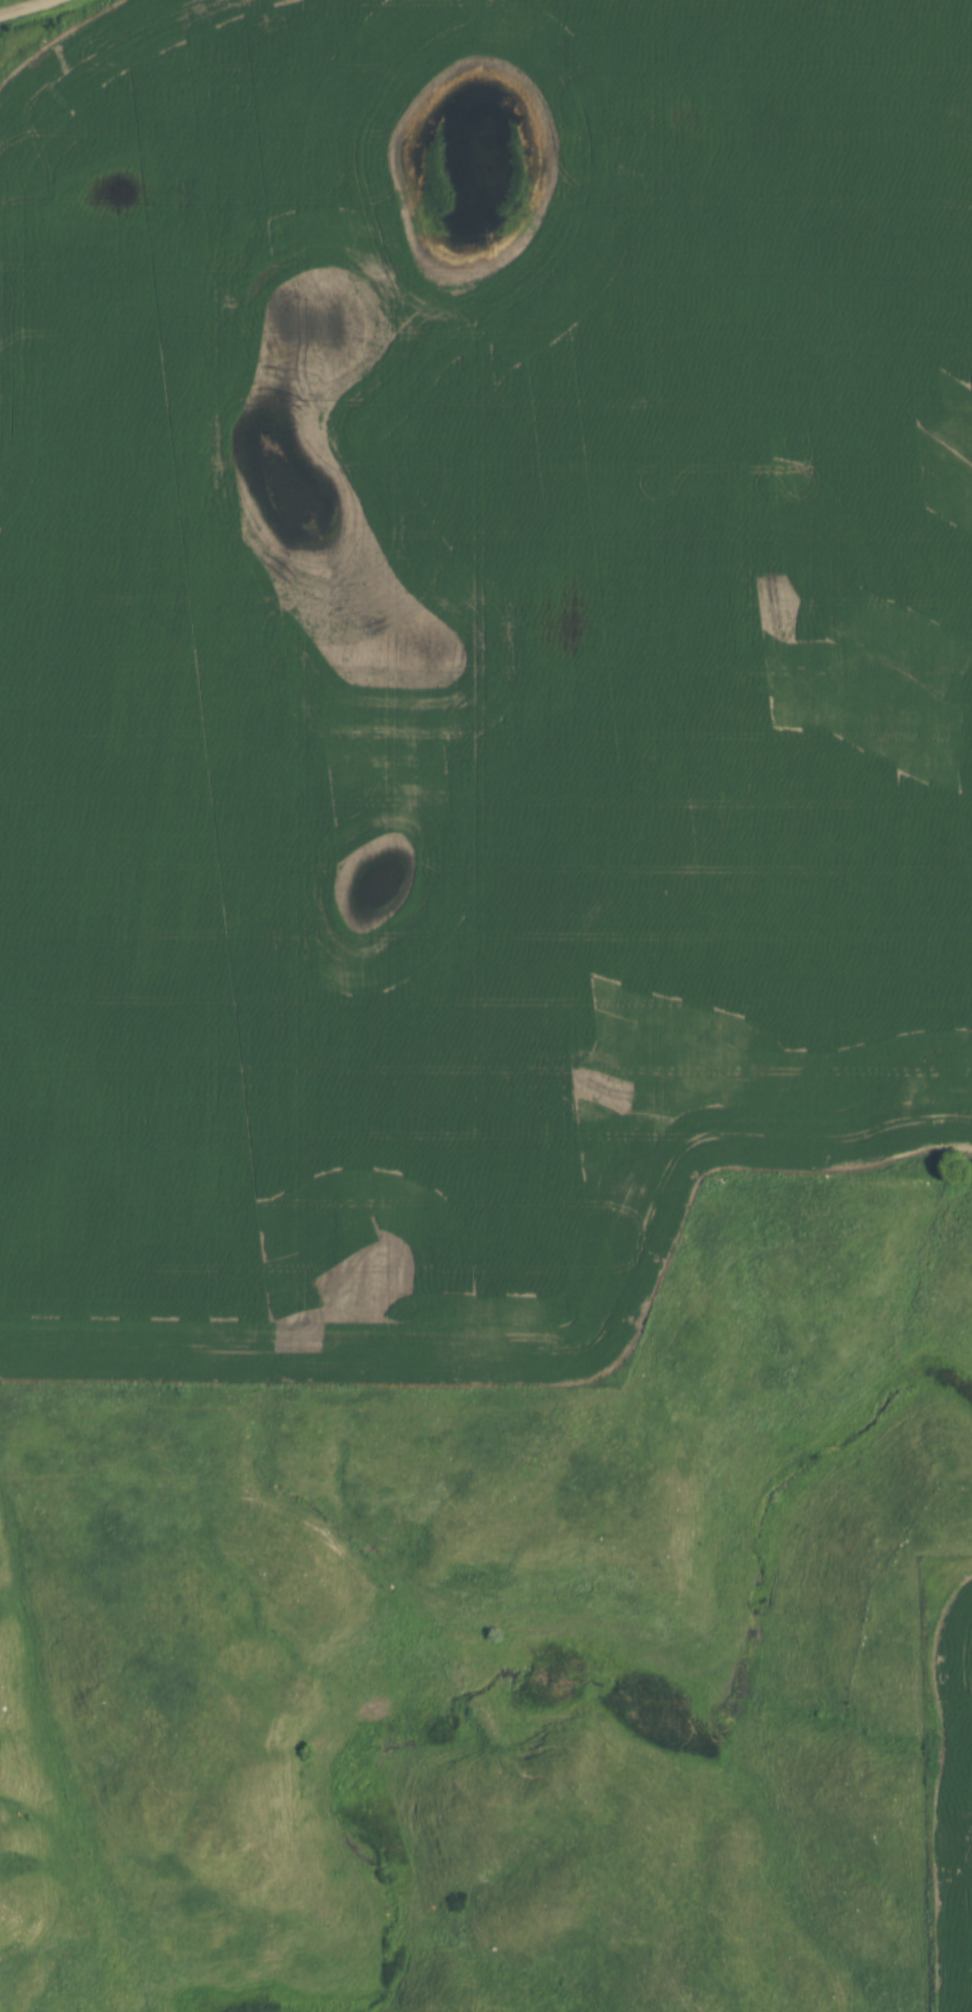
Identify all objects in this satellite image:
road: (15, 4)

